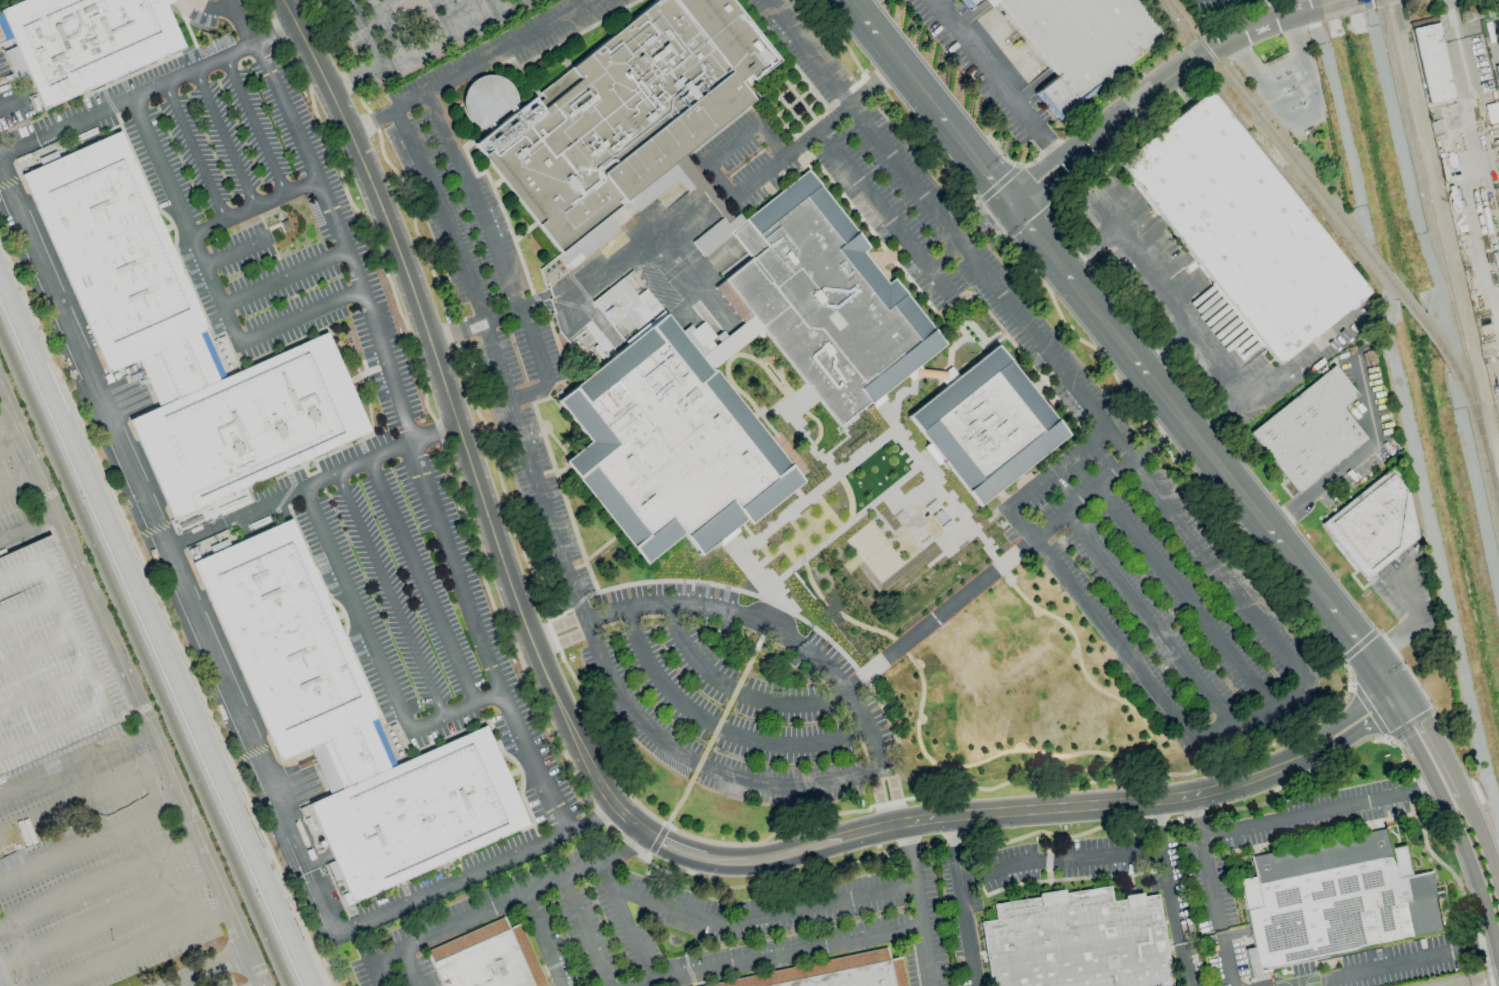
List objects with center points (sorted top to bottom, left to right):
building: (975, 2)
road: (491, 4)
road: (217, 5)
road: (1337, 5)
road: (1261, 13)
power tower: (1464, 14)
road: (391, 16)
road: (364, 33)
road: (276, 34)
road: (445, 34)
building: (86, 41)
building: (1086, 42)
road: (495, 55)
flagpole: (1272, 55)
road: (892, 57)
building: (1431, 63)
road: (1278, 65)
road: (985, 66)
road: (356, 81)
road: (1285, 81)
road: (1153, 89)
road: (128, 98)
road: (1293, 98)
building: (631, 111)
road: (1300, 117)
road: (865, 120)
road: (370, 122)
road: (254, 124)
railway: (1248, 135)
road: (224, 137)
road: (732, 143)
railway: (1282, 145)
road: (1050, 148)
road: (193, 150)
road: (793, 151)
road: (973, 159)
road: (1481, 164)
road: (253, 205)
traffic signals: (1009, 205)
road: (884, 213)
road: (185, 219)
road: (985, 223)
building: (1244, 227)
road: (1040, 244)
road: (235, 252)
road: (623, 254)
road: (1092, 254)
railway: (1440, 254)
road: (944, 255)
road: (498, 258)
road: (285, 277)
building: (630, 280)
railway: (1410, 305)
road: (301, 317)
road: (487, 319)
building: (185, 342)
road: (1163, 347)
building: (861, 363)
road: (1214, 363)
railway: (1464, 390)
road: (3, 410)
road: (403, 414)
road: (1218, 419)
road: (456, 424)
building: (995, 425)
building: (1309, 430)
road: (1375, 440)
road: (1199, 444)
road: (12, 450)
road: (1135, 464)
road: (1056, 468)
road: (324, 477)
road: (20, 490)
road: (1289, 514)
building: (1373, 525)
road: (28, 529)
road: (200, 532)
road: (555, 541)
road: (167, 555)
road: (422, 580)
road: (390, 594)
road: (1187, 597)
road: (356, 608)
road: (1153, 619)
road: (1416, 622)
road: (768, 624)
road: (1098, 624)
road: (555, 627)
railway: (156, 628)
road: (1348, 630)
railway: (150, 642)
road: (564, 643)
road: (899, 646)
traffic signals: (1368, 656)
railway: (144, 659)
building: (48, 663)
parking lot: (48, 663)
road: (1379, 671)
traffic signals: (1391, 686)
road: (132, 688)
road: (1400, 691)
road: (1391, 696)
traffic signals: (1410, 697)
road: (1400, 702)
traffic signals: (1391, 707)
road: (456, 710)
road: (1252, 717)
road: (1346, 717)
building: (350, 723)
road: (718, 725)
road: (1349, 735)
road: (1438, 744)
road: (1418, 754)
road: (75, 764)
road: (1423, 786)
road: (895, 796)
road: (878, 800)
road: (83, 805)
road: (1306, 812)
road: (1006, 814)
road: (1196, 814)
road: (590, 817)
road: (1161, 826)
road: (950, 833)
road: (905, 840)
road: (1484, 842)
road: (91, 844)
road: (624, 849)
road: (675, 849)
road: (1059, 860)
road: (1209, 882)
road: (98, 883)
road: (452, 883)
road: (1477, 883)
road: (1171, 897)
building: (1341, 900)
road: (499, 907)
road: (762, 915)
road: (963, 916)
road: (918, 920)
road: (625, 921)
road: (106, 924)
road: (585, 933)
road: (543, 941)
building: (1082, 942)
road: (145, 949)
road: (773, 955)
building: (493, 959)
road: (1224, 960)
road: (373, 963)
road: (1183, 964)
road: (405, 969)
road: (1366, 969)
road: (211, 970)
building: (839, 972)
park: (1300, 980)
power substation: (1465, 980)
road: (1, 983)

